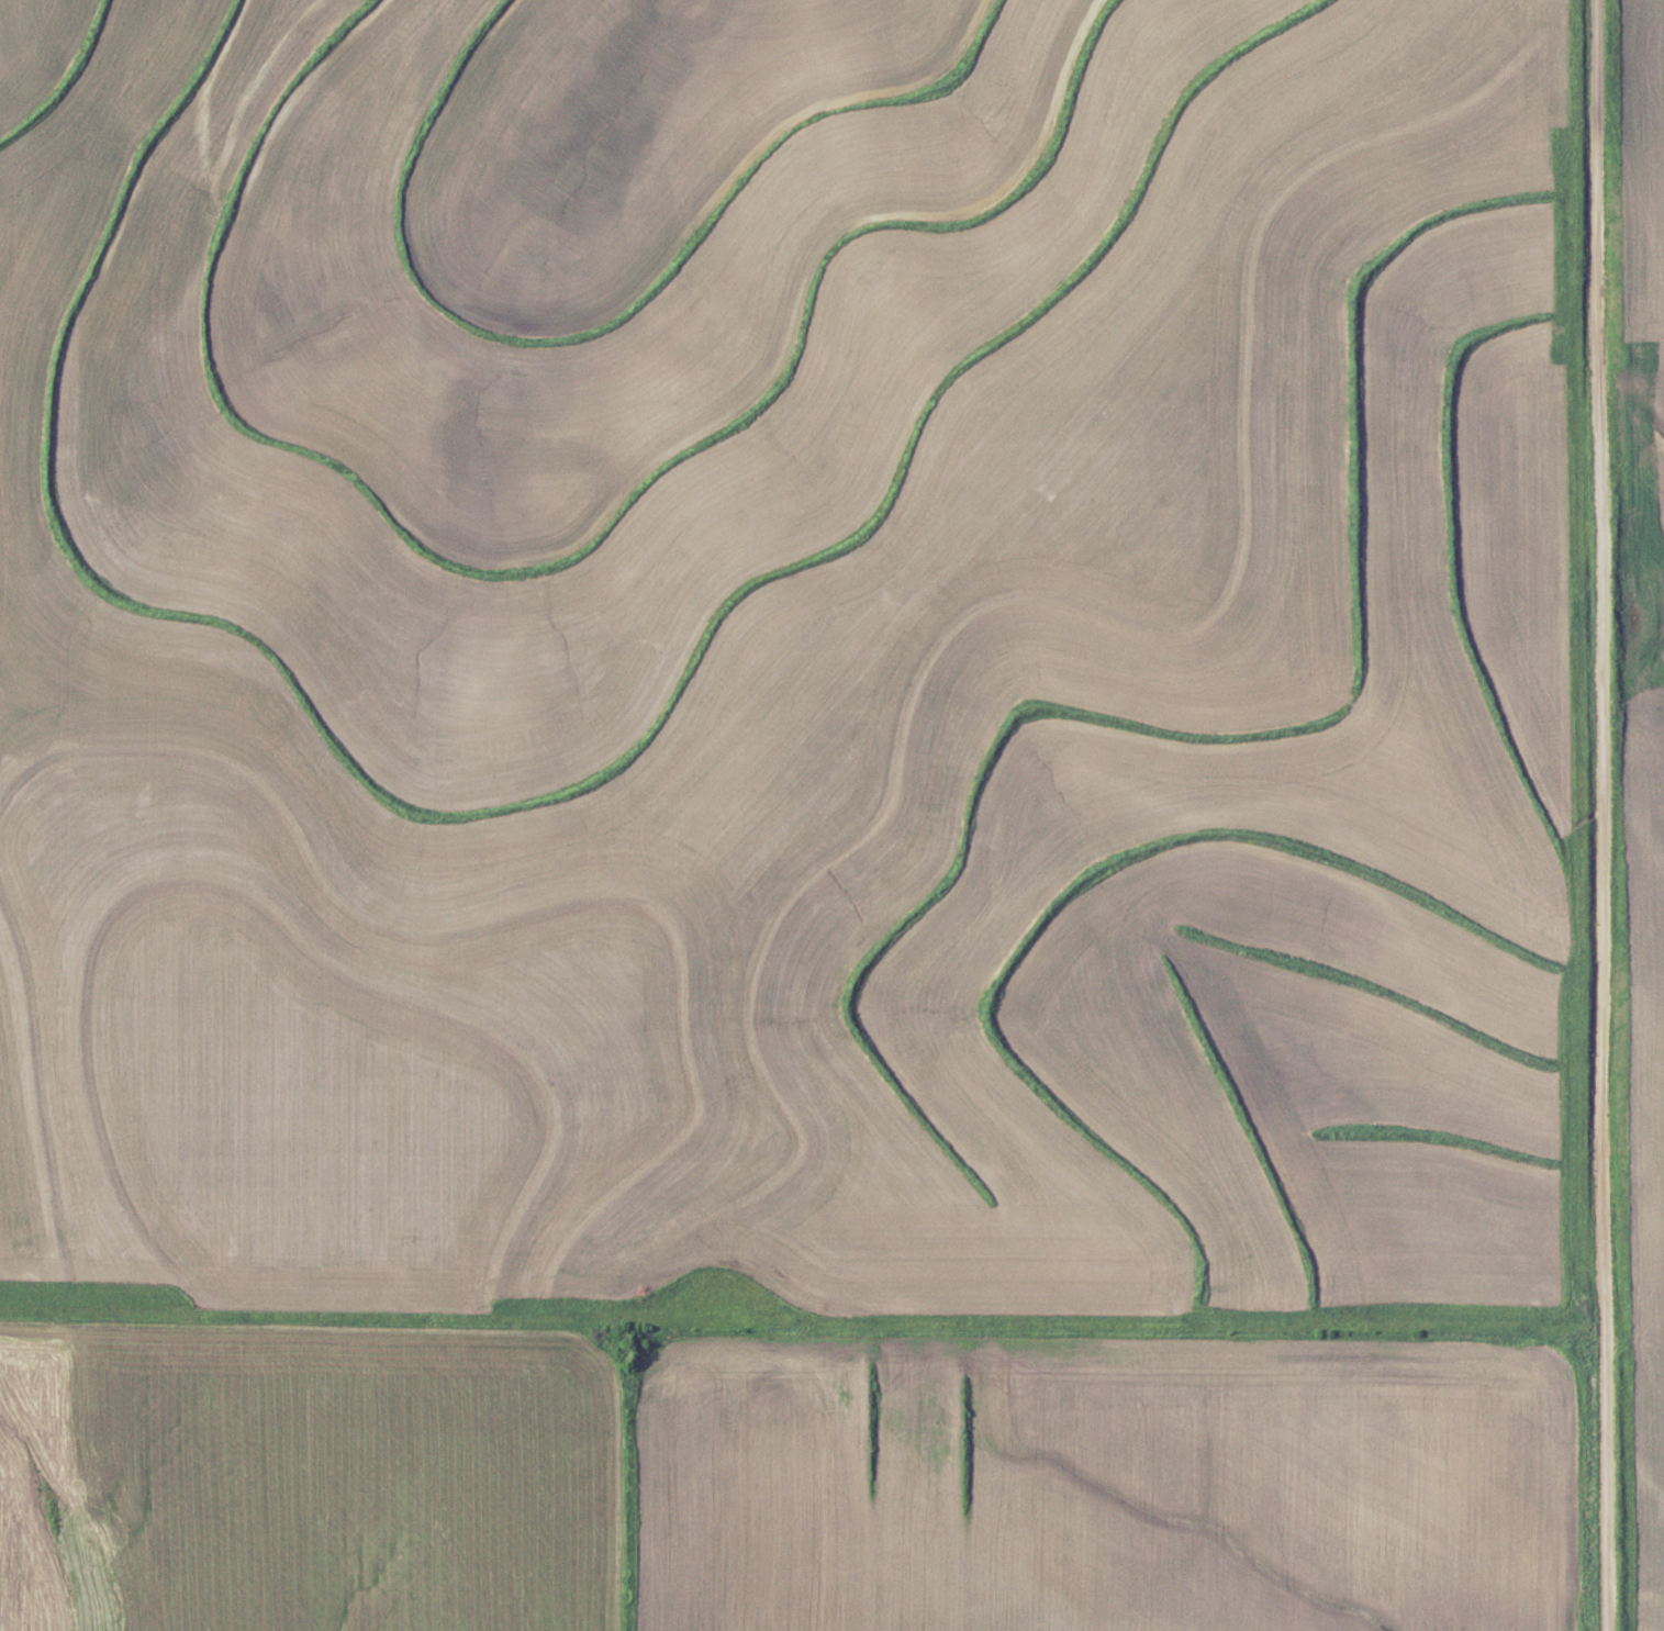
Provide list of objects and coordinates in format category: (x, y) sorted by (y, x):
road: (1598, 815)

